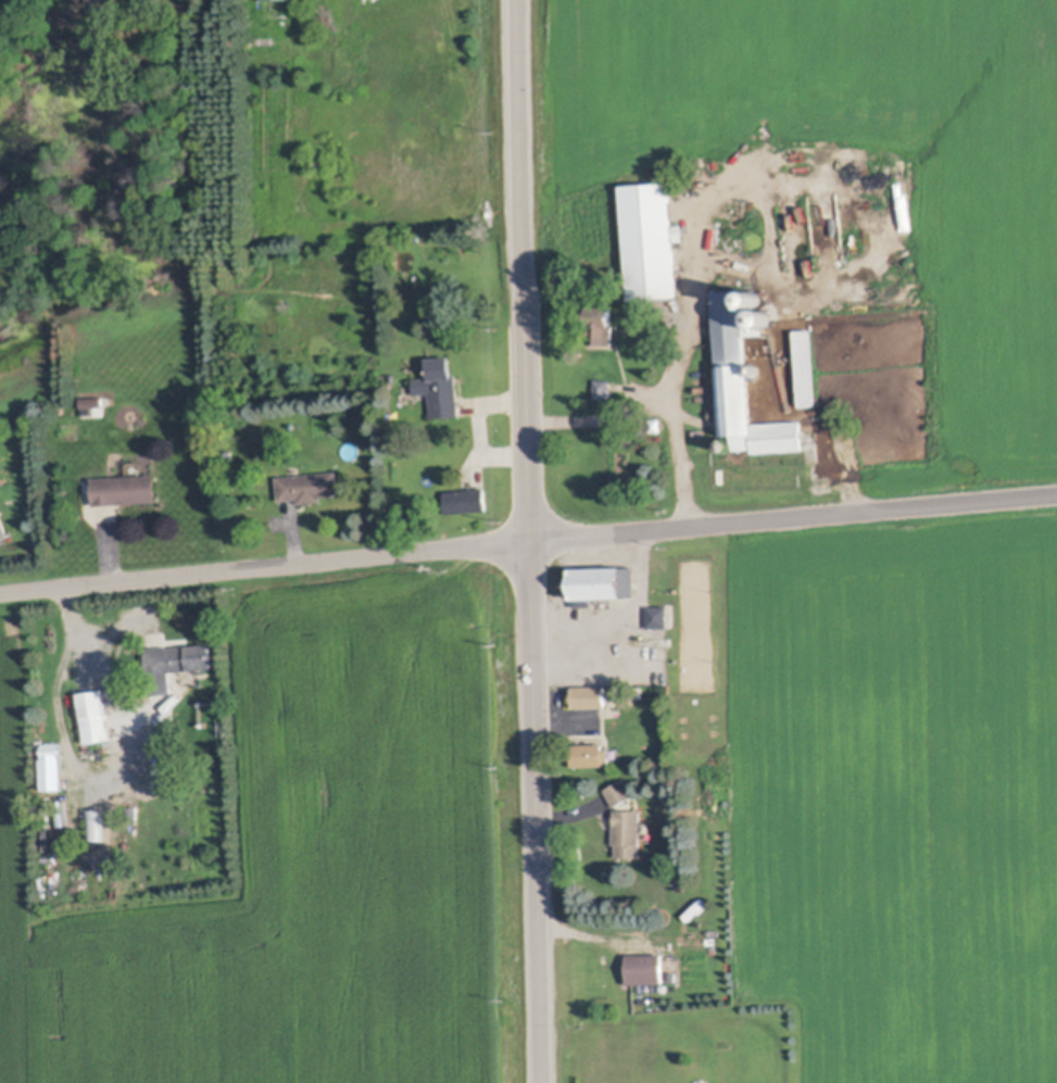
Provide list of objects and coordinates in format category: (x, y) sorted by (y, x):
building: (277, 1)
building: (653, 238)
building: (755, 290)
building: (602, 316)
building: (757, 367)
building: (806, 369)
building: (744, 383)
building: (442, 386)
building: (603, 391)
road: (664, 406)
building: (91, 407)
building: (358, 415)
building: (656, 423)
building: (701, 432)
building: (728, 445)
building: (229, 456)
building: (309, 484)
building: (127, 487)
building: (0, 488)
building: (467, 500)
building: (3, 527)
road: (527, 536)
road: (532, 541)
building: (600, 577)
building: (584, 600)
building: (660, 620)
road: (630, 624)
building: (176, 663)
building: (592, 695)
building: (97, 714)
building: (592, 753)
building: (54, 766)
road: (104, 777)
building: (622, 792)
building: (136, 810)
building: (99, 823)
building: (631, 832)
building: (647, 967)
building: (675, 975)

